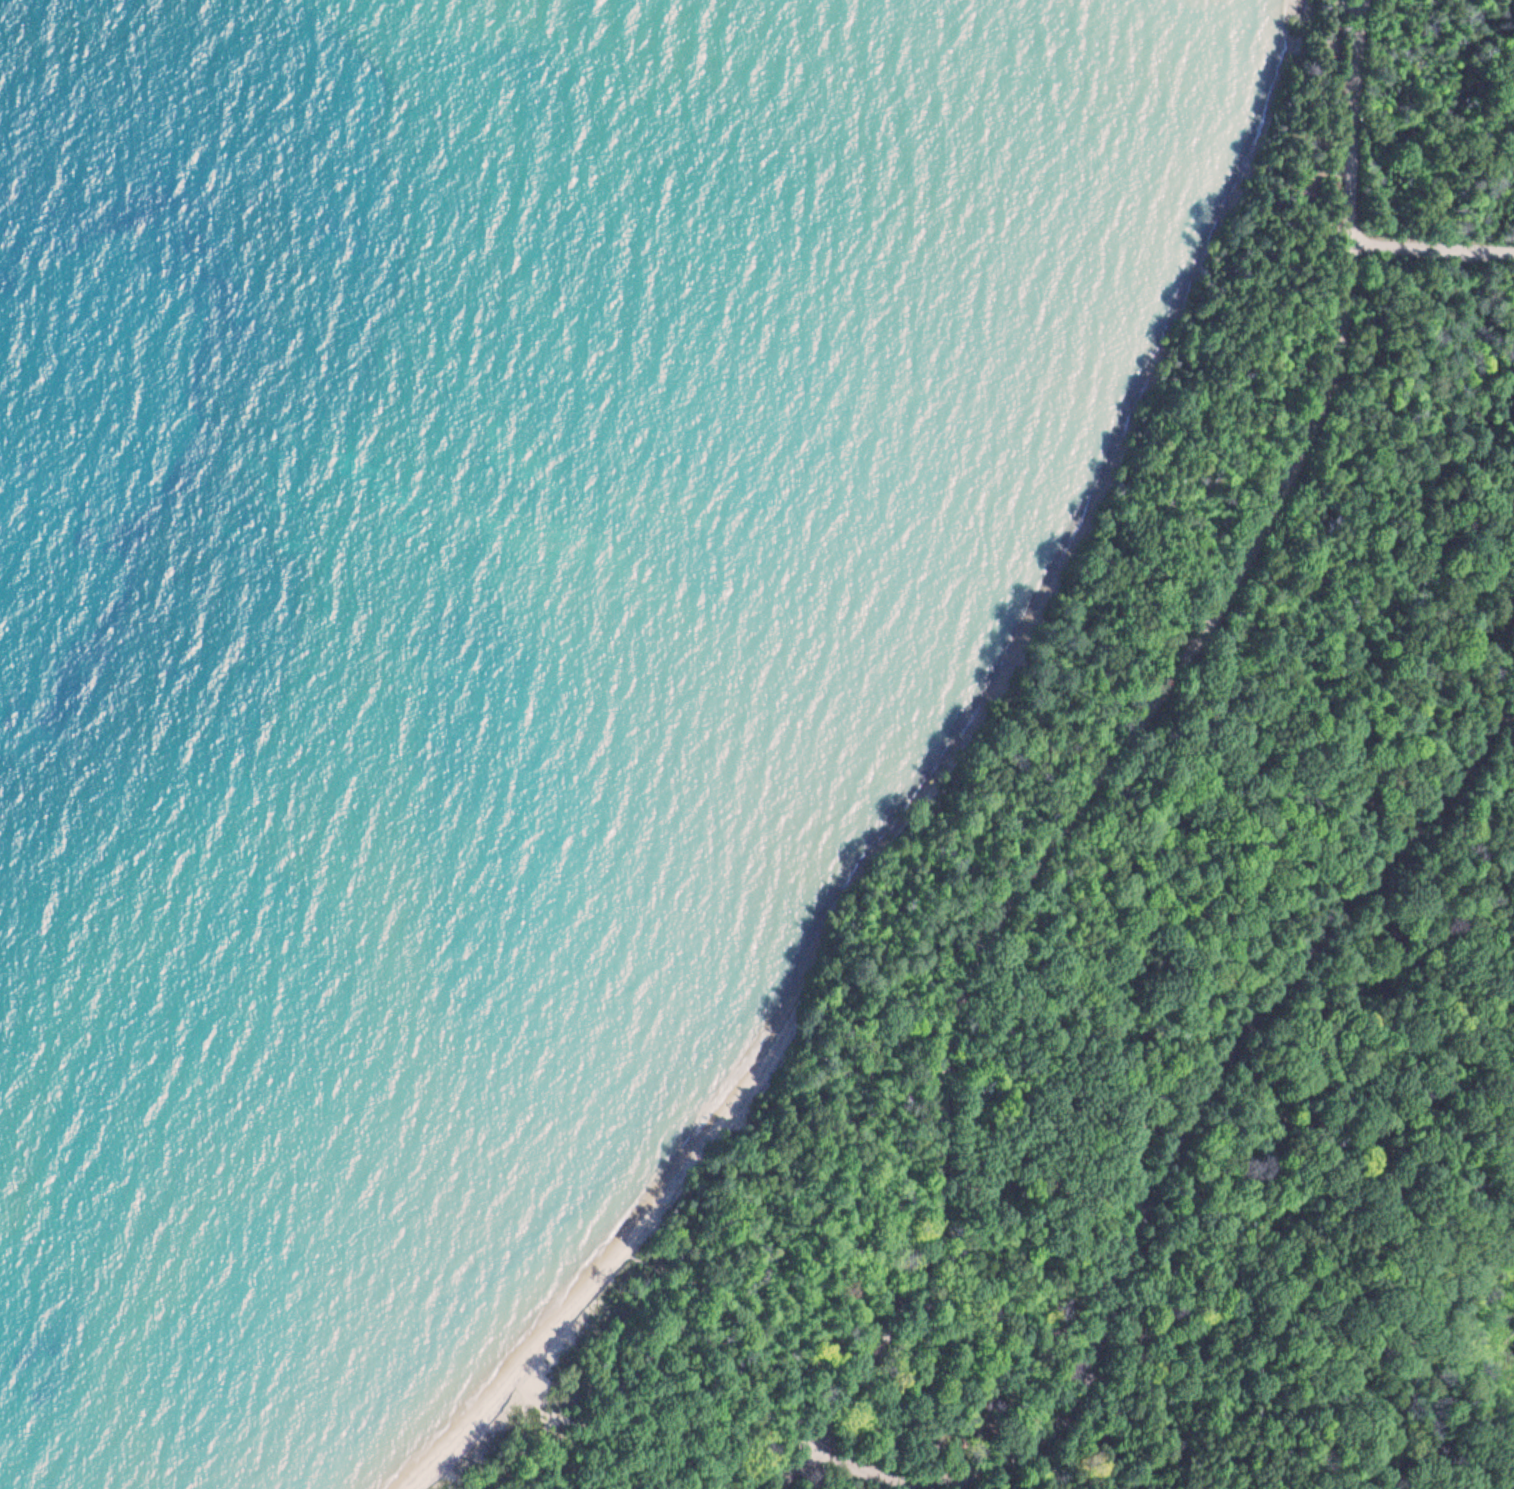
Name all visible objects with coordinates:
road: (1430, 252)
road: (1109, 758)
park: (1133, 928)
road: (1166, 1152)
road: (1371, 1293)
road: (1335, 1475)

